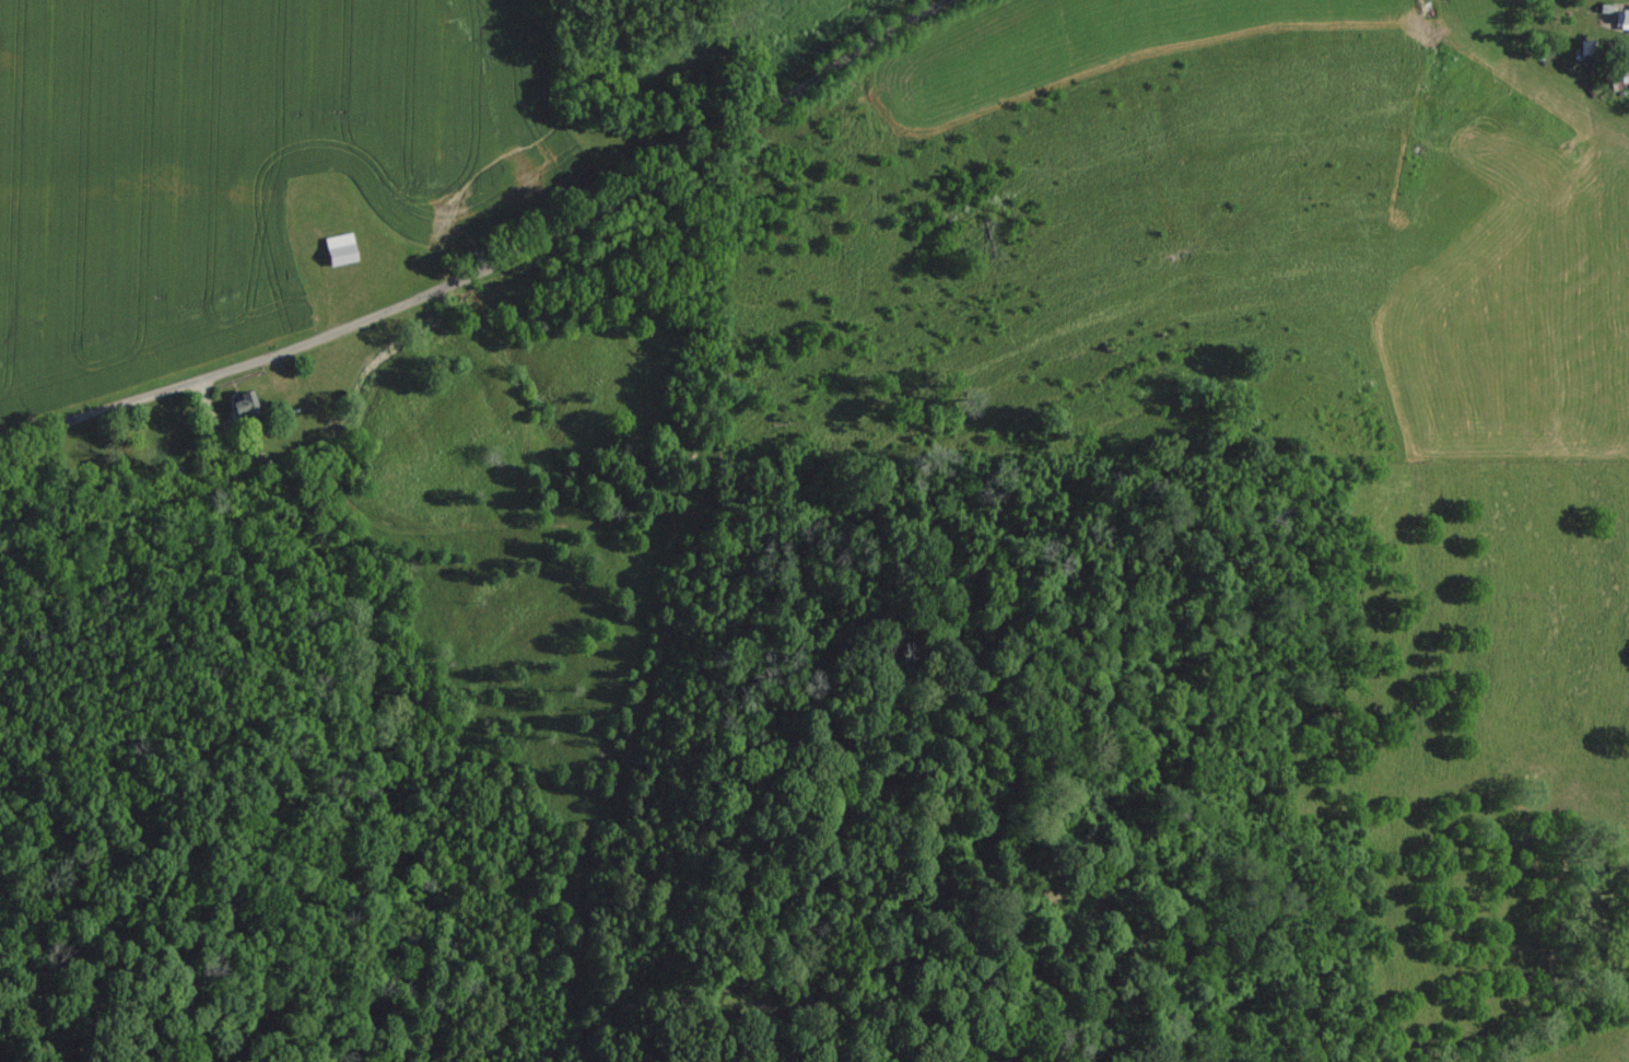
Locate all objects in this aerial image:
building: (1622, 20)
building: (1586, 46)
building: (339, 248)
road: (492, 262)
building: (245, 407)

